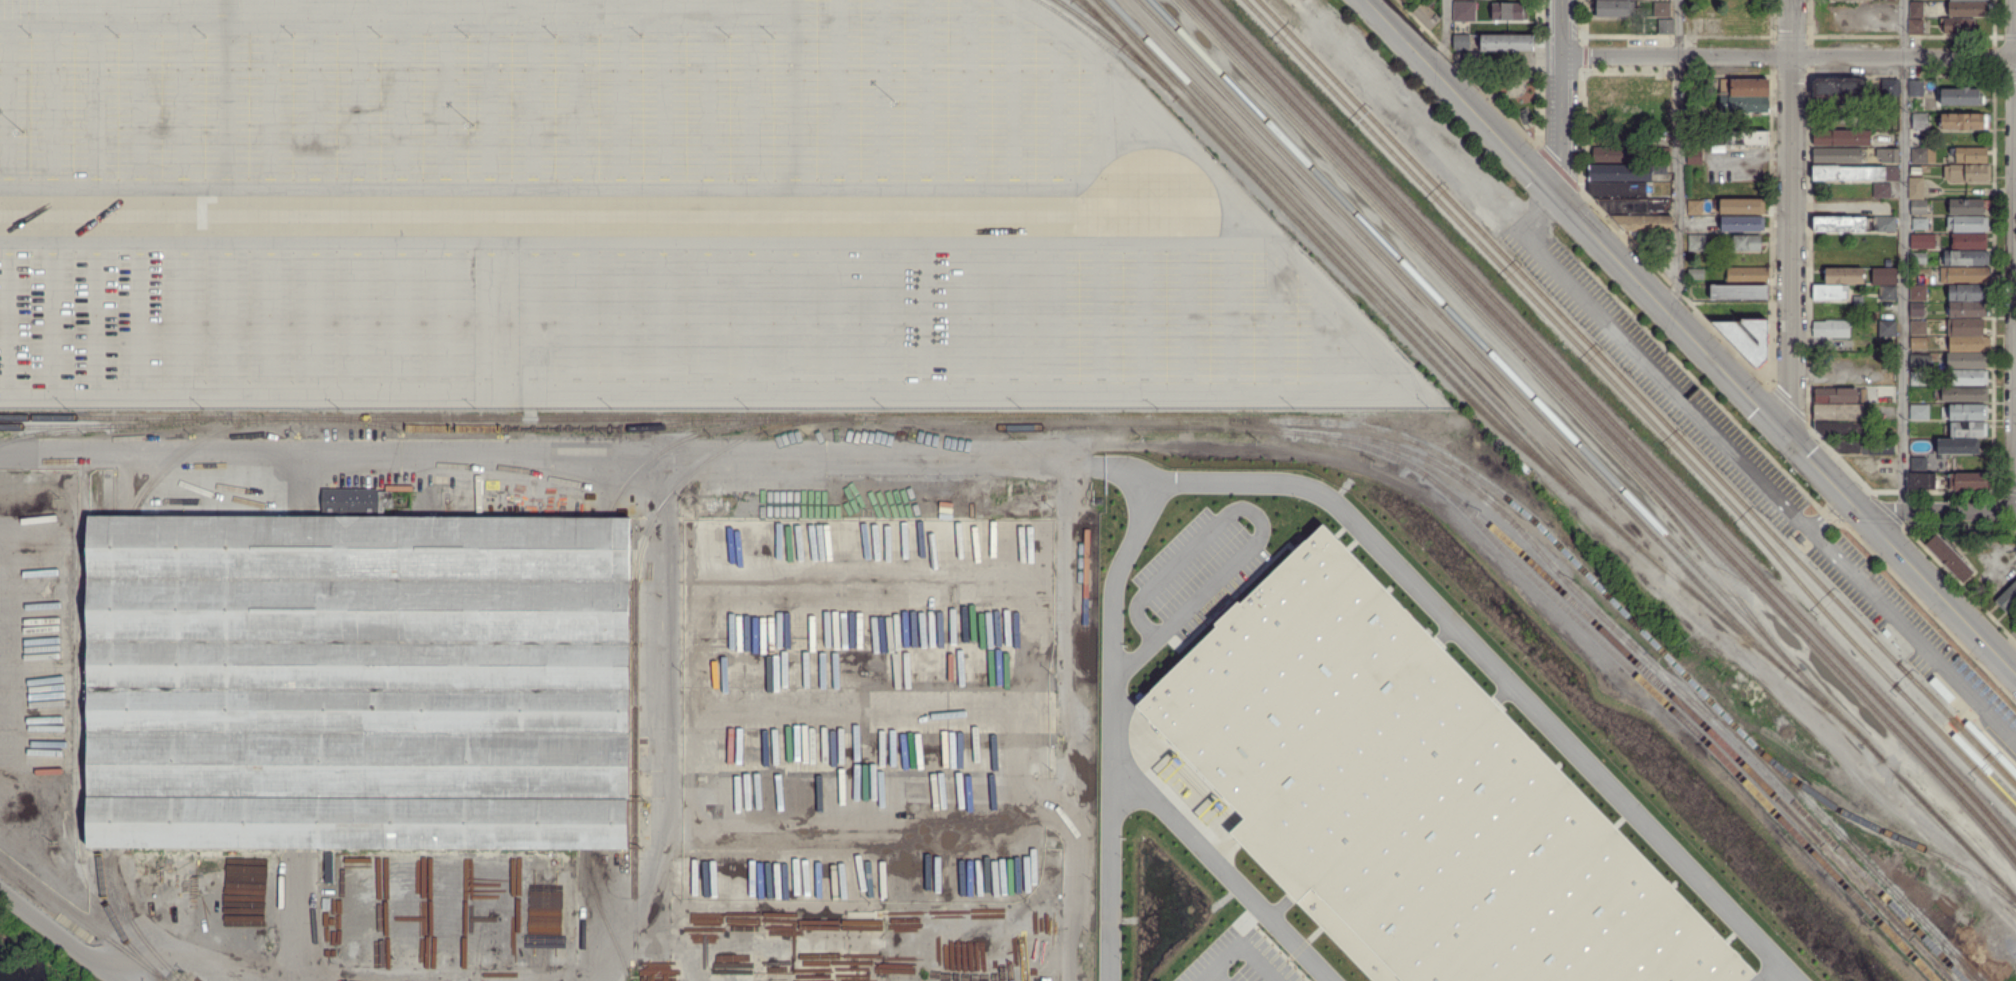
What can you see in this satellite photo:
building: (1968, 0)
building: (1847, 1)
building: (1407, 2)
building: (1616, 8)
building: (1970, 9)
building: (1462, 10)
building: (1662, 10)
building: (1917, 10)
building: (1508, 12)
building: (1426, 14)
railway: (1100, 21)
building: (1958, 26)
road: (397, 27)
road: (1563, 27)
building: (1666, 27)
road: (1792, 27)
building: (1916, 27)
road: (1447, 41)
building: (1458, 42)
building: (1507, 43)
railway: (1118, 45)
road: (1677, 55)
road: (1903, 56)
building: (1470, 60)
building: (1692, 86)
building: (1744, 87)
building: (1620, 88)
building: (1890, 88)
building: (1916, 88)
building: (1836, 91)
park: (1512, 92)
road: (795, 94)
road: (839, 94)
road: (883, 94)
road: (927, 94)
road: (972, 94)
road: (1015, 95)
building: (1960, 97)
road: (1464, 99)
building: (1693, 104)
building: (1745, 104)
building: (1623, 105)
road: (10, 107)
road: (54, 107)
road: (98, 107)
road: (141, 107)
road: (185, 107)
road: (227, 107)
road: (270, 107)
road: (314, 107)
road: (359, 107)
road: (401, 107)
road: (444, 107)
road: (489, 107)
road: (532, 107)
road: (576, 107)
road: (620, 107)
road: (664, 108)
road: (707, 108)
road: (751, 108)
road: (1060, 108)
building: (1920, 121)
building: (1963, 121)
road: (1102, 124)
road: (1561, 126)
building: (1691, 137)
building: (1741, 138)
building: (1842, 138)
road: (1143, 145)
building: (1660, 147)
building: (1970, 155)
building: (1614, 156)
building: (1837, 156)
building: (1888, 156)
building: (1920, 156)
building: (1695, 157)
road: (1677, 159)
building: (1625, 173)
building: (1855, 173)
building: (1970, 173)
road: (614, 188)
building: (1916, 189)
building: (1619, 190)
building: (1882, 191)
building: (1742, 207)
building: (1919, 207)
building: (1967, 207)
building: (1695, 208)
parking lot: (633, 214)
railway: (1302, 214)
road: (1539, 214)
building: (1639, 217)
building: (1920, 223)
building: (1743, 224)
building: (1968, 224)
building: (1854, 225)
road: (640, 242)
building: (1923, 242)
building: (1969, 242)
building: (1701, 243)
building: (1746, 244)
road: (1791, 246)
railway: (1349, 249)
road: (1901, 255)
road: (2013, 255)
building: (1920, 258)
building: (1966, 259)
building: (1696, 275)
building: (1844, 275)
building: (1883, 275)
building: (1747, 276)
building: (1966, 276)
building: (1739, 293)
building: (1828, 293)
building: (1888, 293)
building: (1918, 293)
building: (1967, 293)
building: (1856, 298)
building: (1968, 309)
building: (1916, 310)
road: (1675, 318)
road: (10, 319)
road: (54, 320)
road: (98, 320)
road: (141, 320)
road: (184, 320)
road: (227, 320)
road: (272, 320)
road: (315, 320)
road: (360, 320)
road: (403, 320)
road: (447, 320)
road: (490, 320)
road: (534, 320)
road: (578, 320)
road: (622, 320)
road: (666, 320)
road: (708, 321)
road: (753, 321)
road: (797, 321)
road: (840, 321)
road: (884, 321)
road: (927, 321)
road: (971, 321)
road: (1015, 321)
road: (1059, 321)
road: (1103, 321)
road: (1146, 321)
road: (1191, 321)
road: (1234, 321)
road: (1278, 322)
building: (1966, 327)
building: (1919, 328)
building: (1832, 329)
building: (1888, 329)
railway: (1495, 330)
railway: (1576, 331)
building: (1748, 331)
railway: (1462, 337)
railway: (1571, 339)
road: (1320, 342)
building: (1918, 343)
building: (1968, 344)
parking lot: (1641, 354)
building: (1918, 359)
building: (1967, 361)
road: (1364, 365)
railway: (1508, 371)
road: (1692, 378)
building: (1967, 378)
building: (1919, 379)
railway: (1459, 388)
railway: (1581, 389)
building: (1912, 391)
railway: (1570, 393)
building: (1965, 395)
building: (1839, 396)
building: (1888, 396)
road: (2014, 398)
road: (1007, 400)
building: (1920, 412)
building: (1968, 412)
building: (1839, 413)
railway: (114, 416)
railway: (275, 416)
railway: (881, 418)
railway: (114, 423)
railway: (530, 427)
railway: (1129, 427)
building: (1845, 429)
building: (1968, 429)
railway: (53, 431)
traffic signals: (1790, 438)
railway: (684, 441)
railway: (199, 442)
building: (1846, 445)
building: (1958, 446)
building: (1882, 448)
road: (534, 449)
railway: (1539, 458)
railway: (702, 464)
building: (1919, 464)
building: (1923, 481)
building: (1969, 482)
building: (398, 487)
road: (1769, 487)
railway: (101, 494)
railway: (116, 496)
building: (349, 500)
building: (385, 501)
road: (1827, 511)
road: (1938, 511)
road: (1837, 521)
railway: (1614, 522)
road: (1257, 534)
building: (1800, 538)
railway: (119, 553)
road: (1903, 554)
building: (1950, 558)
parking lot: (1193, 573)
building: (2007, 598)
road: (1928, 611)
road: (1488, 667)
railway: (1645, 670)
railway: (100, 681)
railway: (115, 681)
building: (360, 682)
railway: (582, 682)
building: (1614, 683)
building: (1940, 687)
road: (1108, 691)
road: (1953, 692)
railway: (1689, 699)
railway: (1715, 706)
road: (1964, 712)
road: (652, 718)
road: (1954, 721)
railway: (1685, 722)
railway: (1956, 722)
road: (1975, 722)
railway: (1956, 724)
road: (1066, 726)
road: (1981, 736)
railway: (1954, 744)
railway: (1954, 746)
road: (1999, 746)
railway: (636, 747)
road: (1968, 749)
railway: (1999, 760)
railway: (1987, 772)
building: (1411, 796)
railway: (1986, 811)
railway: (1940, 820)
railway: (1983, 823)
railway: (1878, 829)
building: (328, 866)
road: (1219, 867)
railway: (601, 912)
road: (300, 913)
railway: (82, 919)
railway: (131, 921)
railway: (114, 922)
road: (59, 934)
road: (200, 949)
road: (1235, 956)
parking lot: (1232, 962)
road: (456, 979)

